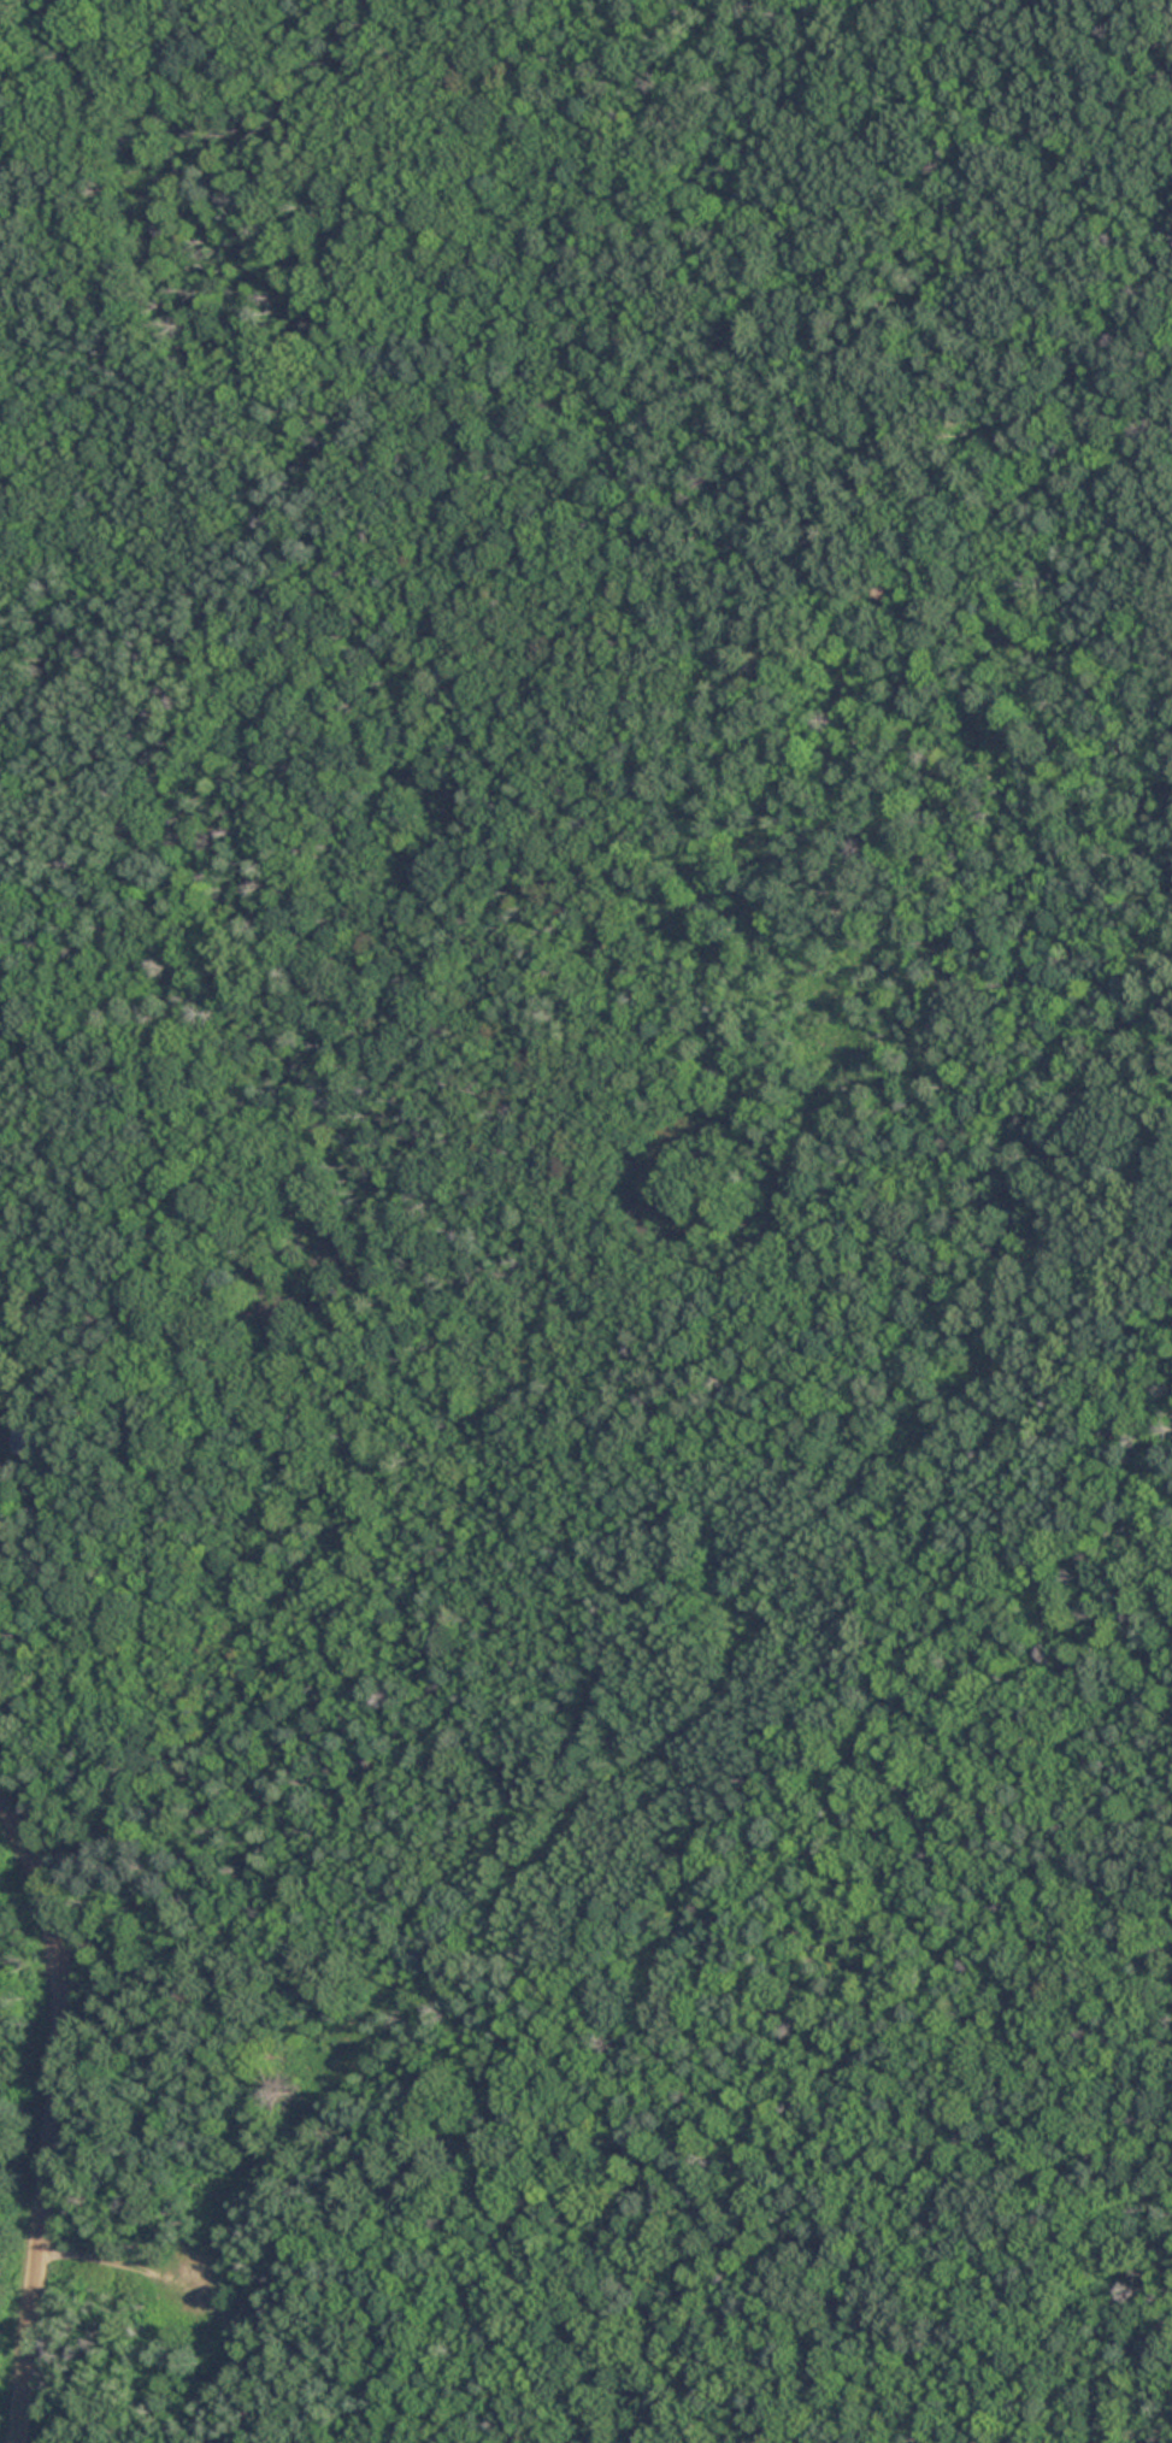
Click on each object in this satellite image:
park: (595, 1225)
road: (51, 2115)

